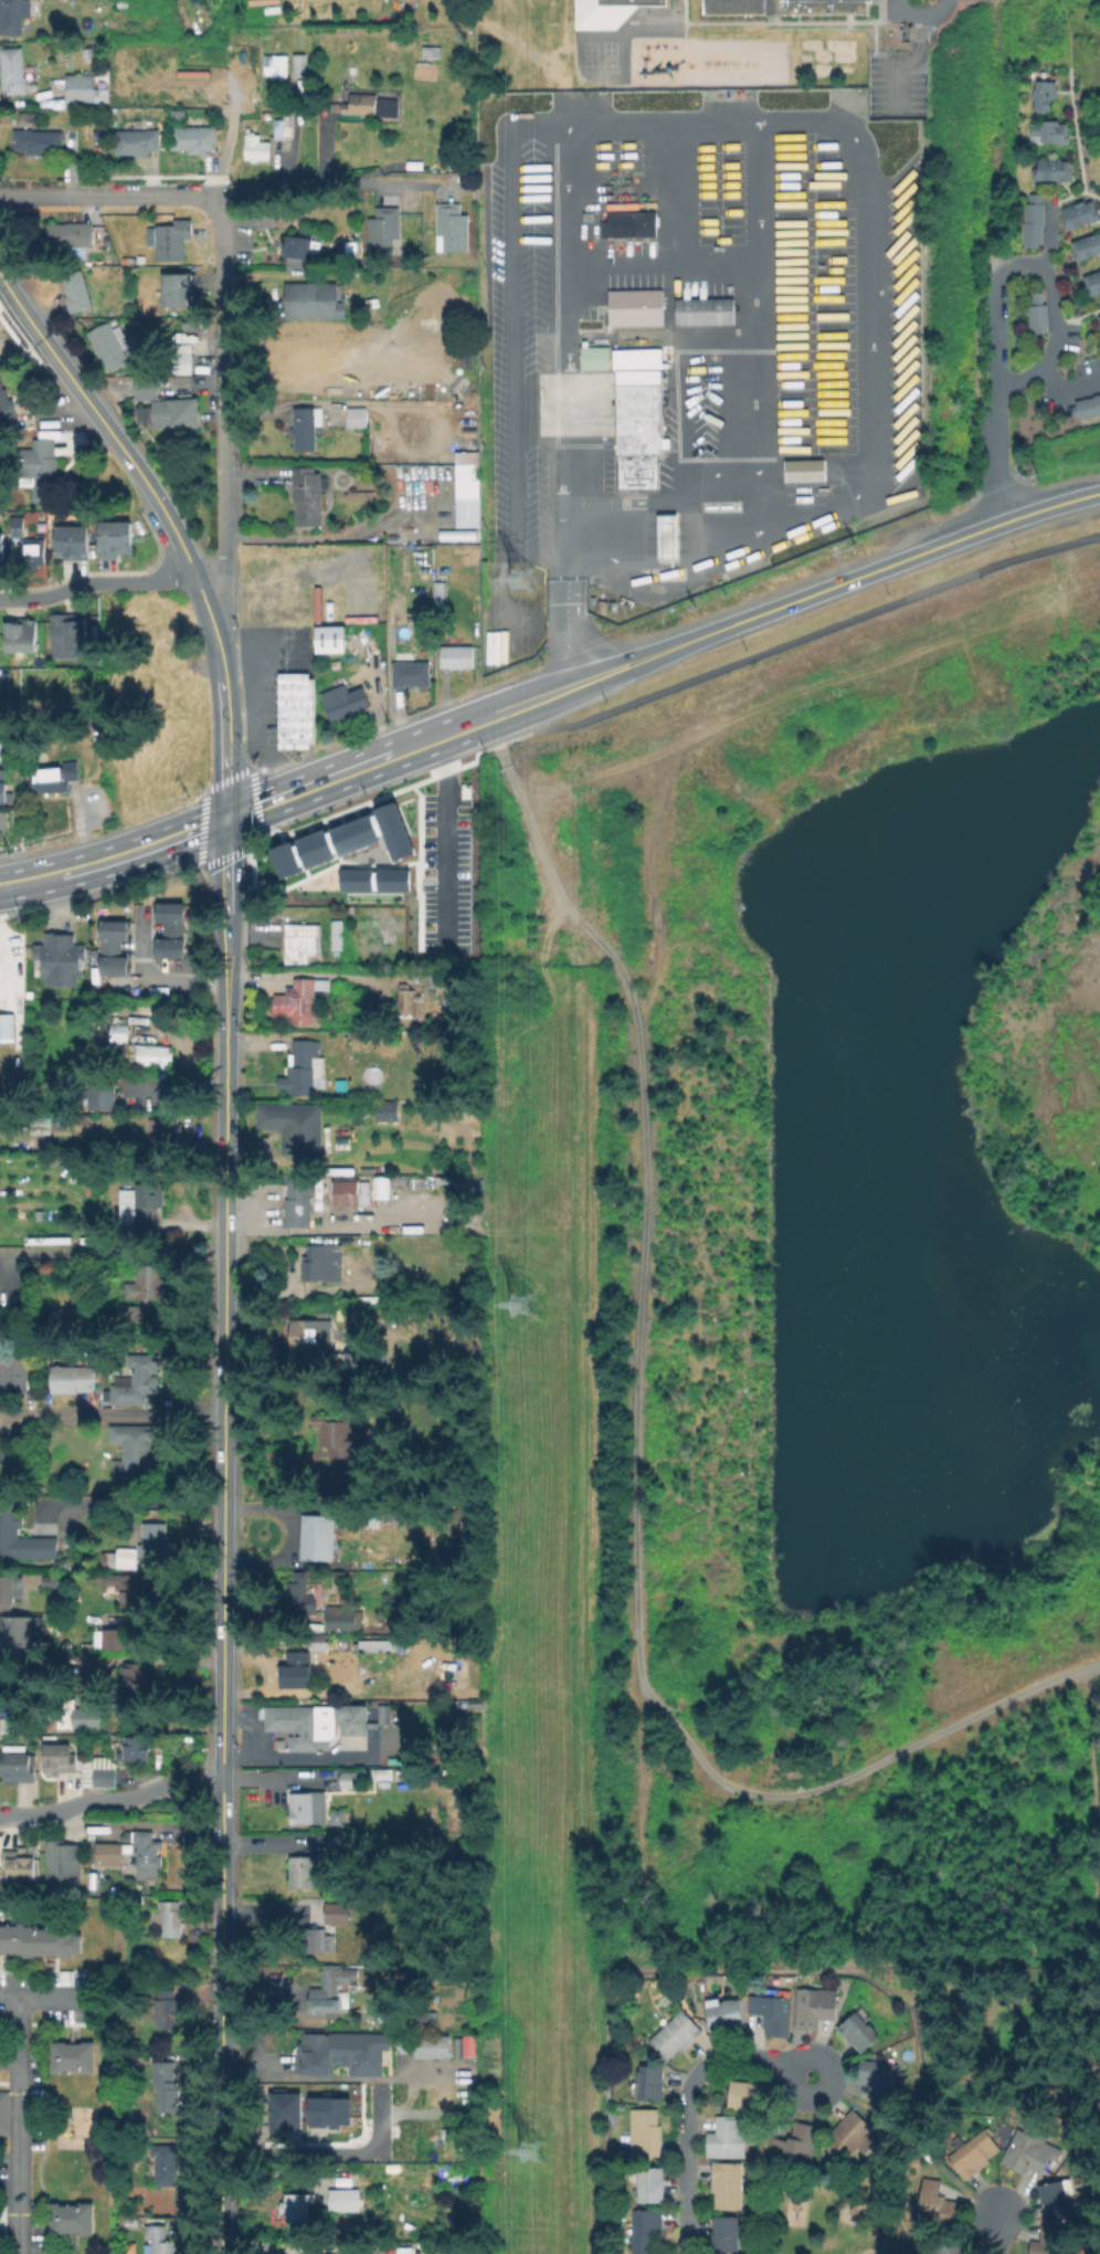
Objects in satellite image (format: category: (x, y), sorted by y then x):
park: (1054, 1)
building: (124, 4)
building: (782, 6)
building: (604, 11)
road: (916, 11)
building: (13, 13)
road: (1067, 32)
building: (433, 51)
road: (907, 61)
building: (296, 63)
building: (273, 65)
building: (12, 70)
building: (355, 70)
building: (81, 87)
building: (1041, 94)
building: (372, 107)
building: (281, 124)
road: (986, 130)
building: (1044, 131)
building: (98, 134)
building: (190, 138)
road: (1075, 138)
building: (39, 140)
building: (134, 140)
building: (253, 147)
building: (1050, 168)
road: (332, 182)
road: (110, 196)
building: (1076, 213)
building: (1030, 219)
building: (626, 223)
building: (452, 228)
building: (382, 230)
building: (70, 235)
building: (169, 239)
road: (868, 243)
building: (1085, 245)
building: (300, 249)
road: (1015, 261)
building: (1091, 282)
building: (176, 288)
building: (72, 291)
building: (310, 299)
building: (633, 306)
building: (464, 309)
building: (701, 310)
road: (1077, 315)
building: (1035, 317)
building: (1098, 320)
road: (15, 333)
road: (565, 340)
building: (109, 343)
building: (311, 354)
building: (592, 357)
building: (179, 358)
road: (509, 359)
road: (75, 386)
road: (1062, 387)
building: (147, 388)
building: (469, 391)
road: (222, 401)
building: (6, 403)
building: (1086, 405)
building: (177, 412)
building: (636, 414)
building: (357, 415)
building: (307, 424)
building: (470, 443)
road: (993, 457)
building: (41, 467)
building: (803, 470)
building: (469, 488)
building: (307, 494)
building: (17, 526)
road: (173, 530)
building: (665, 535)
building: (473, 536)
building: (115, 538)
building: (73, 543)
building: (2, 551)
building: (33, 551)
building: (473, 557)
road: (621, 567)
power tower: (527, 573)
road: (95, 582)
building: (441, 592)
road: (203, 600)
road: (568, 623)
building: (70, 632)
road: (710, 633)
road: (806, 635)
building: (22, 636)
building: (330, 638)
building: (457, 655)
building: (412, 673)
building: (4, 684)
building: (346, 701)
building: (297, 709)
road: (224, 725)
road: (254, 725)
building: (1, 750)
building: (54, 777)
building: (2, 787)
road: (274, 799)
traffic signals: (225, 819)
building: (0, 825)
road: (444, 844)
road: (125, 856)
building: (296, 884)
road: (11, 885)
road: (225, 903)
building: (172, 930)
building: (334, 934)
building: (300, 940)
building: (115, 949)
building: (61, 959)
road: (300, 972)
road: (159, 978)
building: (295, 1000)
building: (406, 1003)
building: (8, 1029)
building: (117, 1031)
building: (152, 1057)
building: (305, 1066)
building: (99, 1096)
building: (385, 1110)
building: (41, 1123)
building: (165, 1127)
building: (294, 1127)
building: (366, 1168)
building: (391, 1182)
building: (348, 1192)
building: (141, 1203)
building: (300, 1204)
road: (114, 1255)
building: (325, 1263)
building: (144, 1292)
power tower: (523, 1303)
building: (326, 1312)
building: (63, 1320)
building: (307, 1335)
building: (449, 1342)
building: (13, 1373)
building: (74, 1378)
building: (138, 1379)
road: (112, 1411)
building: (337, 1433)
building: (136, 1453)
building: (320, 1537)
building: (22, 1538)
building: (145, 1546)
road: (222, 1547)
building: (62, 1567)
building: (340, 1576)
building: (51, 1582)
building: (7, 1591)
building: (133, 1593)
building: (298, 1593)
building: (393, 1604)
building: (340, 1618)
building: (57, 1622)
building: (18, 1631)
building: (109, 1637)
building: (320, 1641)
building: (377, 1645)
building: (300, 1666)
building: (8, 1674)
building: (87, 1674)
building: (444, 1676)
building: (133, 1684)
building: (378, 1713)
building: (78, 1715)
building: (350, 1718)
building: (300, 1725)
building: (0, 1727)
building: (136, 1749)
building: (60, 1761)
building: (21, 1768)
building: (101, 1772)
building: (449, 1774)
building: (377, 1776)
building: (353, 1777)
building: (309, 1799)
road: (110, 1800)
building: (340, 1843)
building: (109, 1853)
building: (148, 1854)
building: (64, 1865)
building: (19, 1866)
building: (303, 1871)
building: (338, 1913)
building: (170, 1915)
building: (40, 1939)
building: (315, 1939)
building: (411, 1958)
building: (67, 1977)
building: (330, 1986)
road: (46, 1997)
road: (8, 1998)
building: (814, 2007)
building: (167, 2008)
building: (773, 2012)
building: (724, 2013)
building: (425, 2014)
building: (859, 2030)
building: (676, 2034)
building: (390, 2040)
building: (404, 2043)
building: (434, 2047)
building: (459, 2047)
building: (74, 2056)
building: (316, 2056)
road: (8, 2060)
building: (879, 2078)
building: (651, 2083)
building: (166, 2085)
building: (748, 2094)
road: (685, 2099)
building: (6, 2113)
road: (18, 2126)
building: (646, 2132)
building: (848, 2135)
building: (730, 2136)
building: (796, 2142)
power tower: (536, 2147)
building: (1030, 2150)
road: (325, 2152)
building: (974, 2153)
building: (166, 2163)
building: (369, 2174)
road: (219, 2179)
building: (652, 2184)
building: (728, 2184)
building: (1057, 2198)
building: (346, 2201)
building: (935, 2203)
building: (297, 2206)
building: (73, 2218)
building: (3, 2219)
building: (647, 2231)
road: (995, 2231)
building: (726, 2233)
building: (161, 2240)
building: (1049, 2240)
building: (949, 2244)

